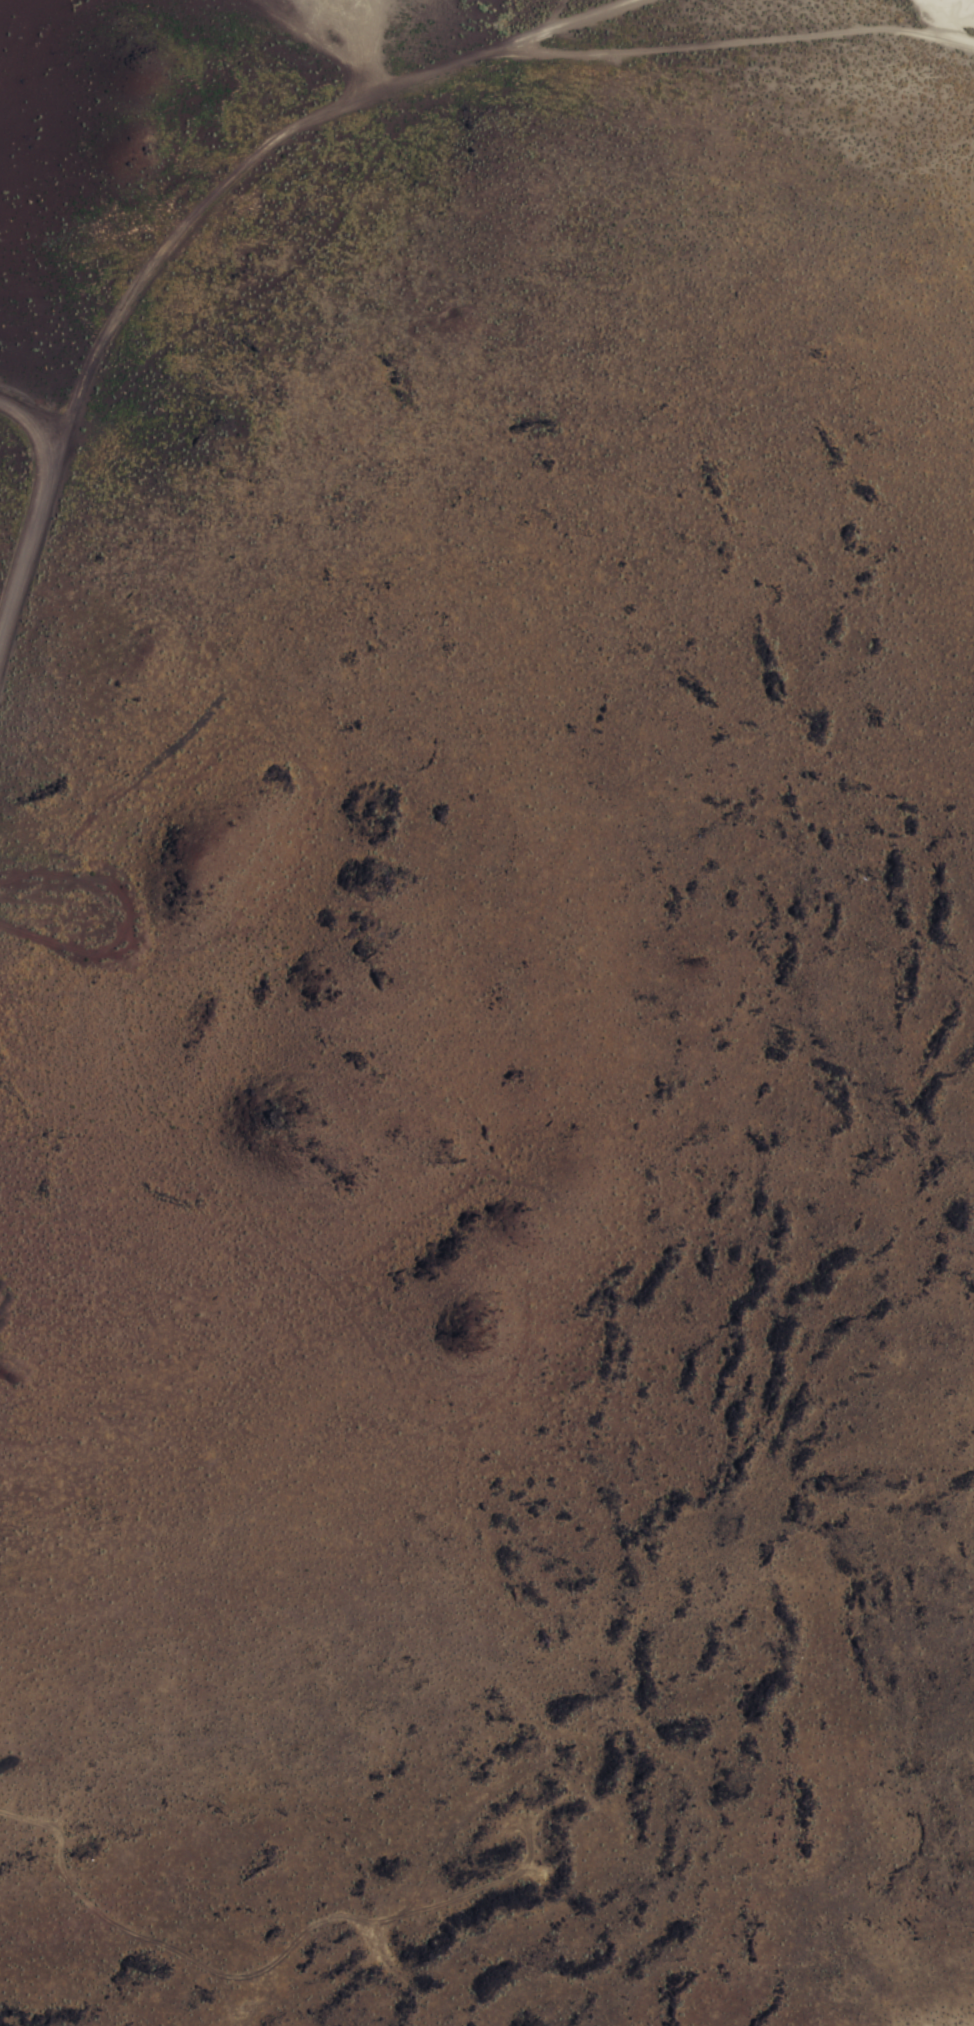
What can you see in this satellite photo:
road: (201, 210)
road: (34, 408)

